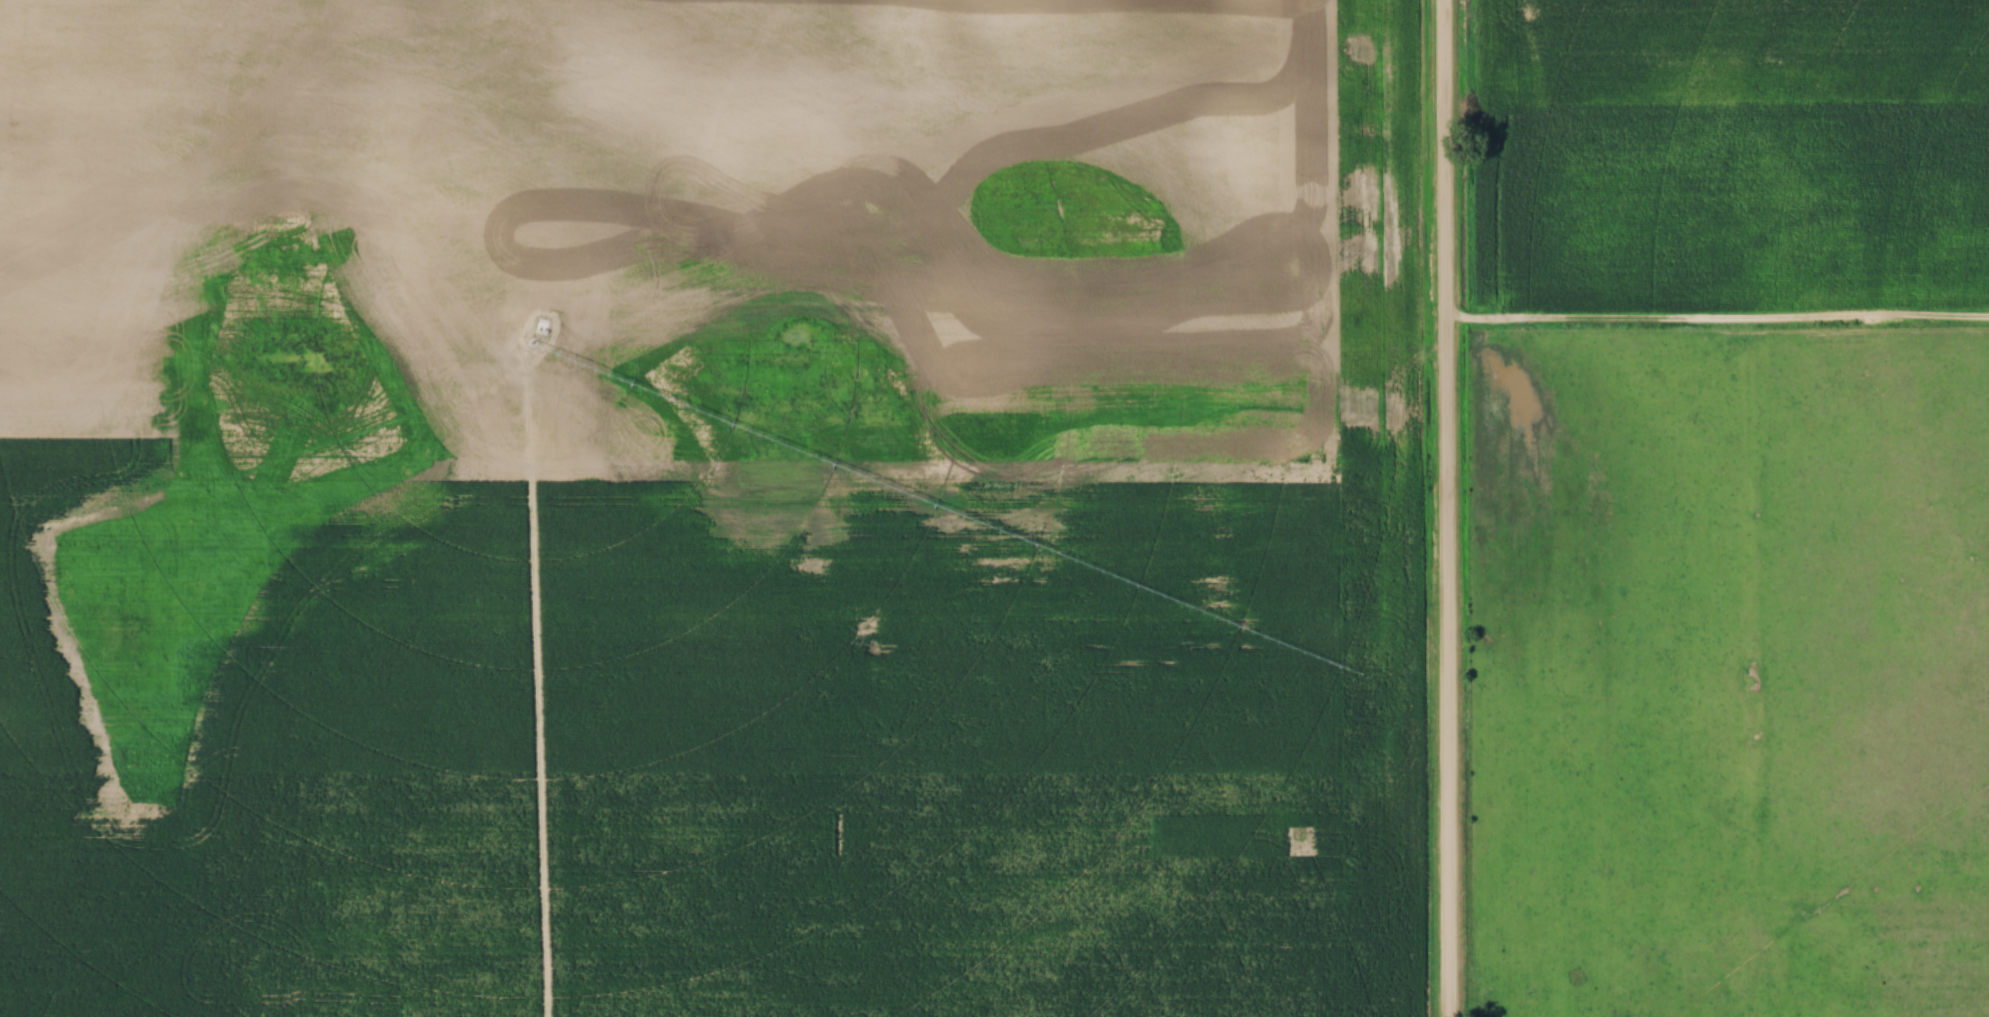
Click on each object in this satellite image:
road: (1451, 508)

